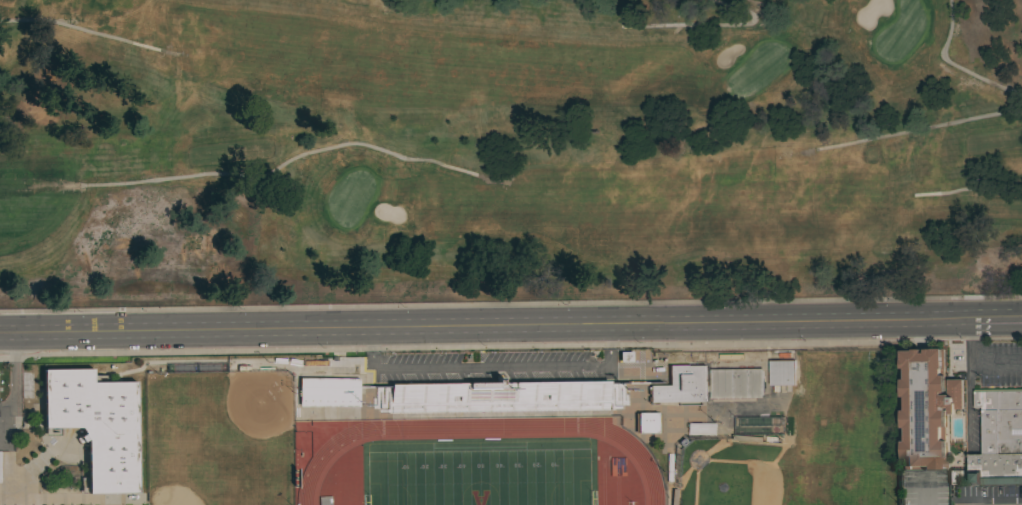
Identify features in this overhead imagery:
road: (714, 23)
road: (78, 29)
road: (955, 66)
road: (918, 127)
park: (506, 151)
road: (280, 167)
road: (968, 190)
road: (1000, 320)
road: (488, 324)
road: (478, 346)
road: (225, 358)
building: (633, 362)
road: (974, 365)
road: (491, 367)
road: (628, 367)
road: (352, 372)
building: (781, 373)
building: (736, 383)
building: (681, 386)
road: (13, 389)
building: (327, 392)
building: (498, 395)
road: (677, 407)
building: (924, 408)
road: (467, 413)
road: (41, 414)
building: (1000, 420)
building: (647, 422)
building: (97, 425)
building: (700, 429)
road: (57, 437)
park: (218, 437)
building: (746, 438)
road: (62, 444)
stadium: (471, 444)
road: (674, 459)
track: (320, 461)
road: (33, 463)
building: (0, 466)
building: (994, 468)
park: (616, 470)
park: (783, 474)
park: (479, 477)
park: (601, 477)
building: (950, 477)
road: (65, 493)
road: (1, 494)
building: (672, 497)
road: (121, 498)
park: (324, 498)
road: (41, 499)
road: (95, 499)
road: (0, 500)
road: (990, 503)

